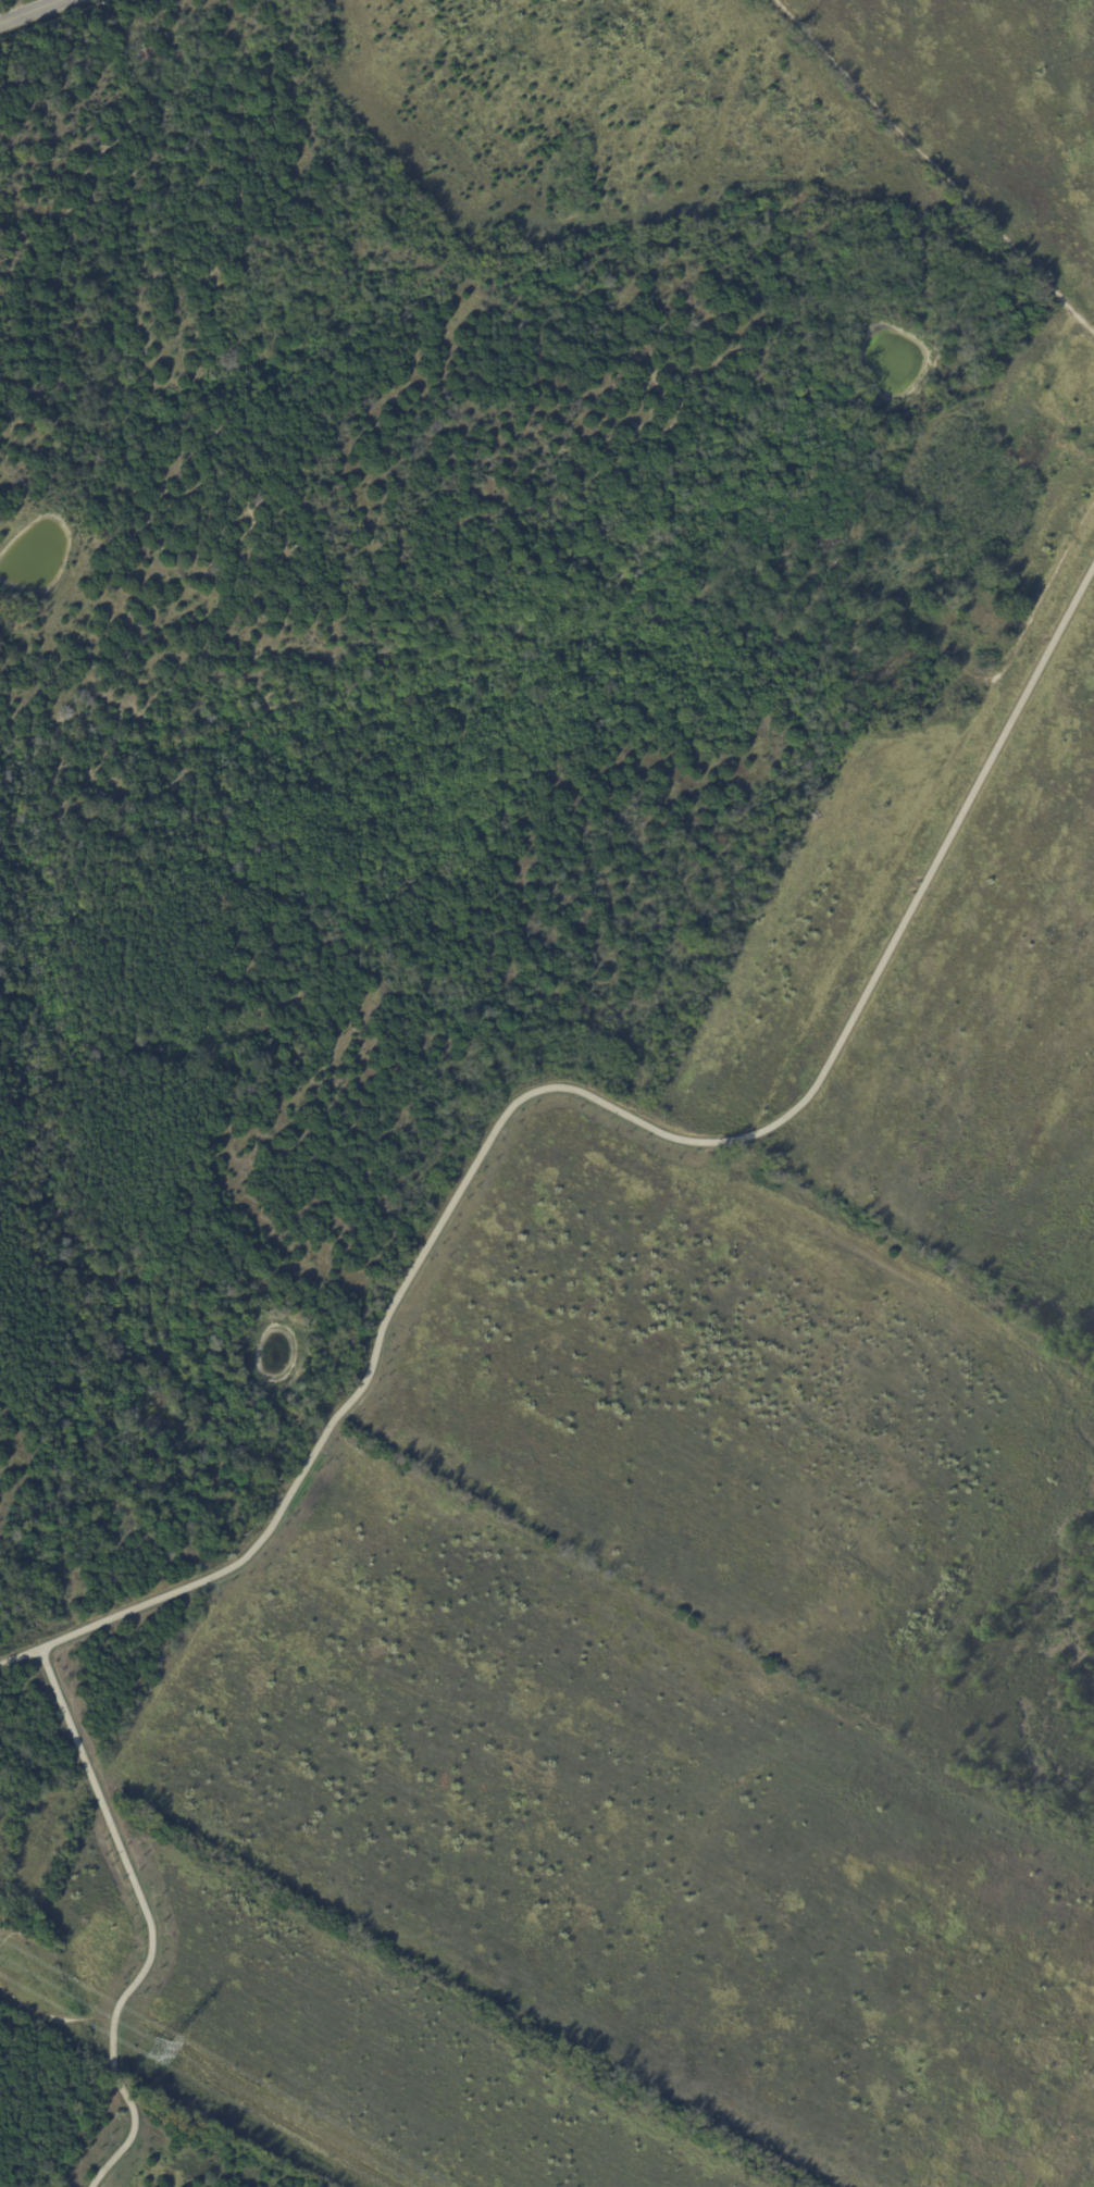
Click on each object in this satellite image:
road: (20, 7)
building: (146, 53)
building: (181, 57)
building: (161, 60)
road: (935, 164)
building: (1028, 447)
building: (843, 538)
building: (870, 599)
building: (967, 614)
road: (1028, 624)
building: (892, 668)
building: (973, 706)
building: (955, 716)
road: (573, 1086)
road: (147, 1917)
power tower: (156, 2050)

